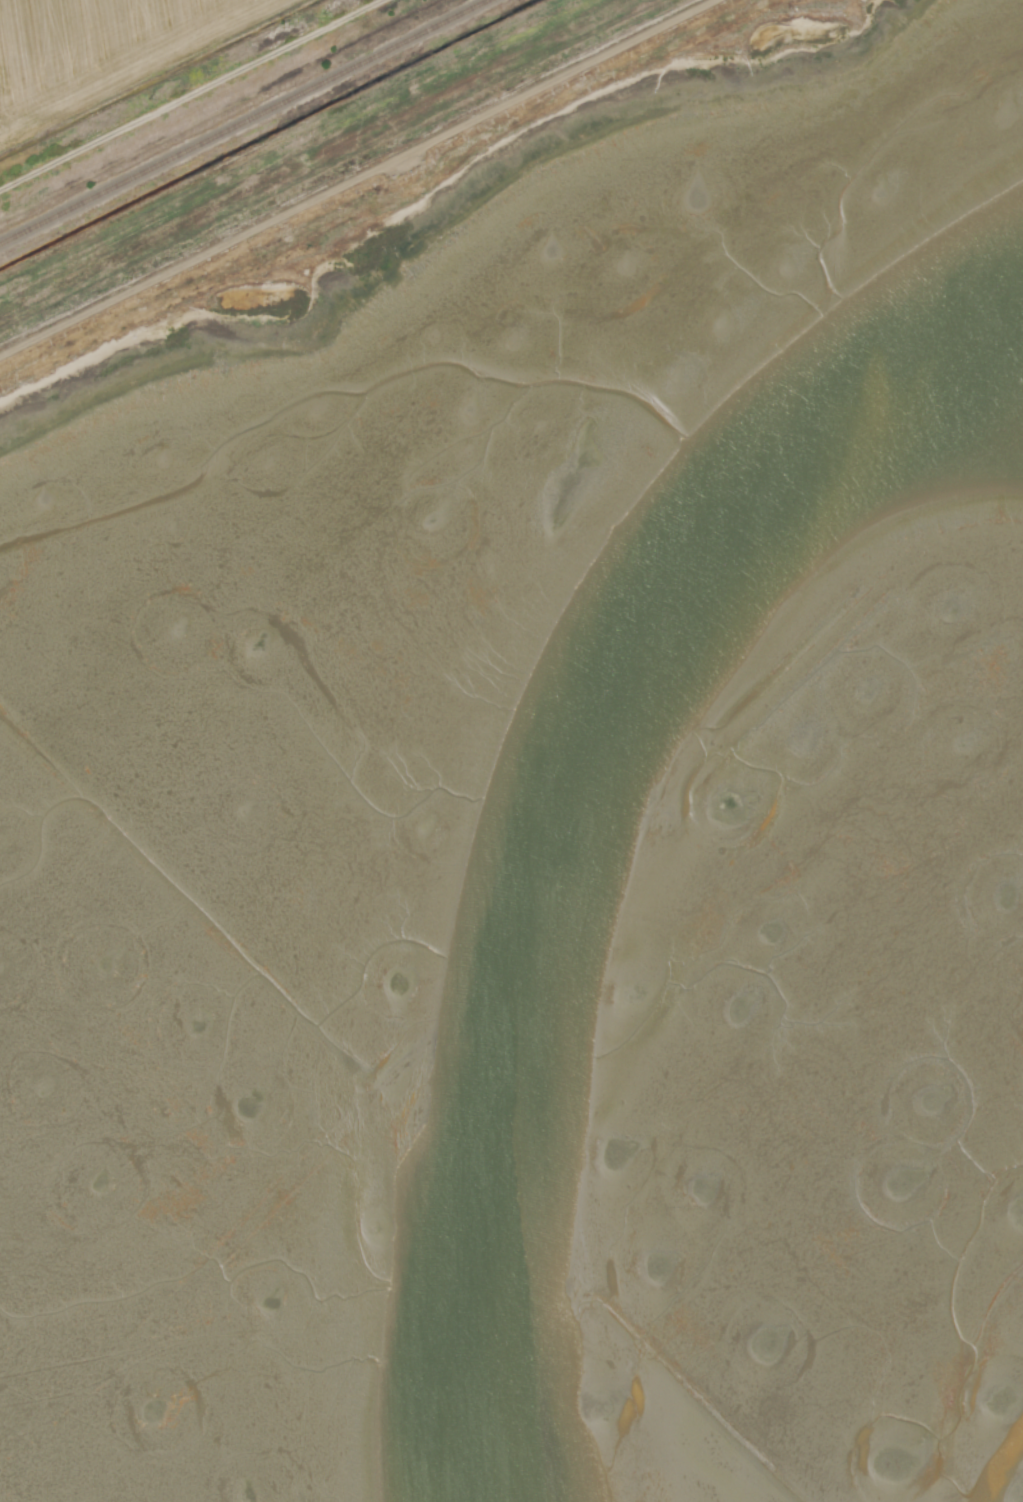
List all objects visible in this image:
railway: (246, 122)
road: (357, 178)

